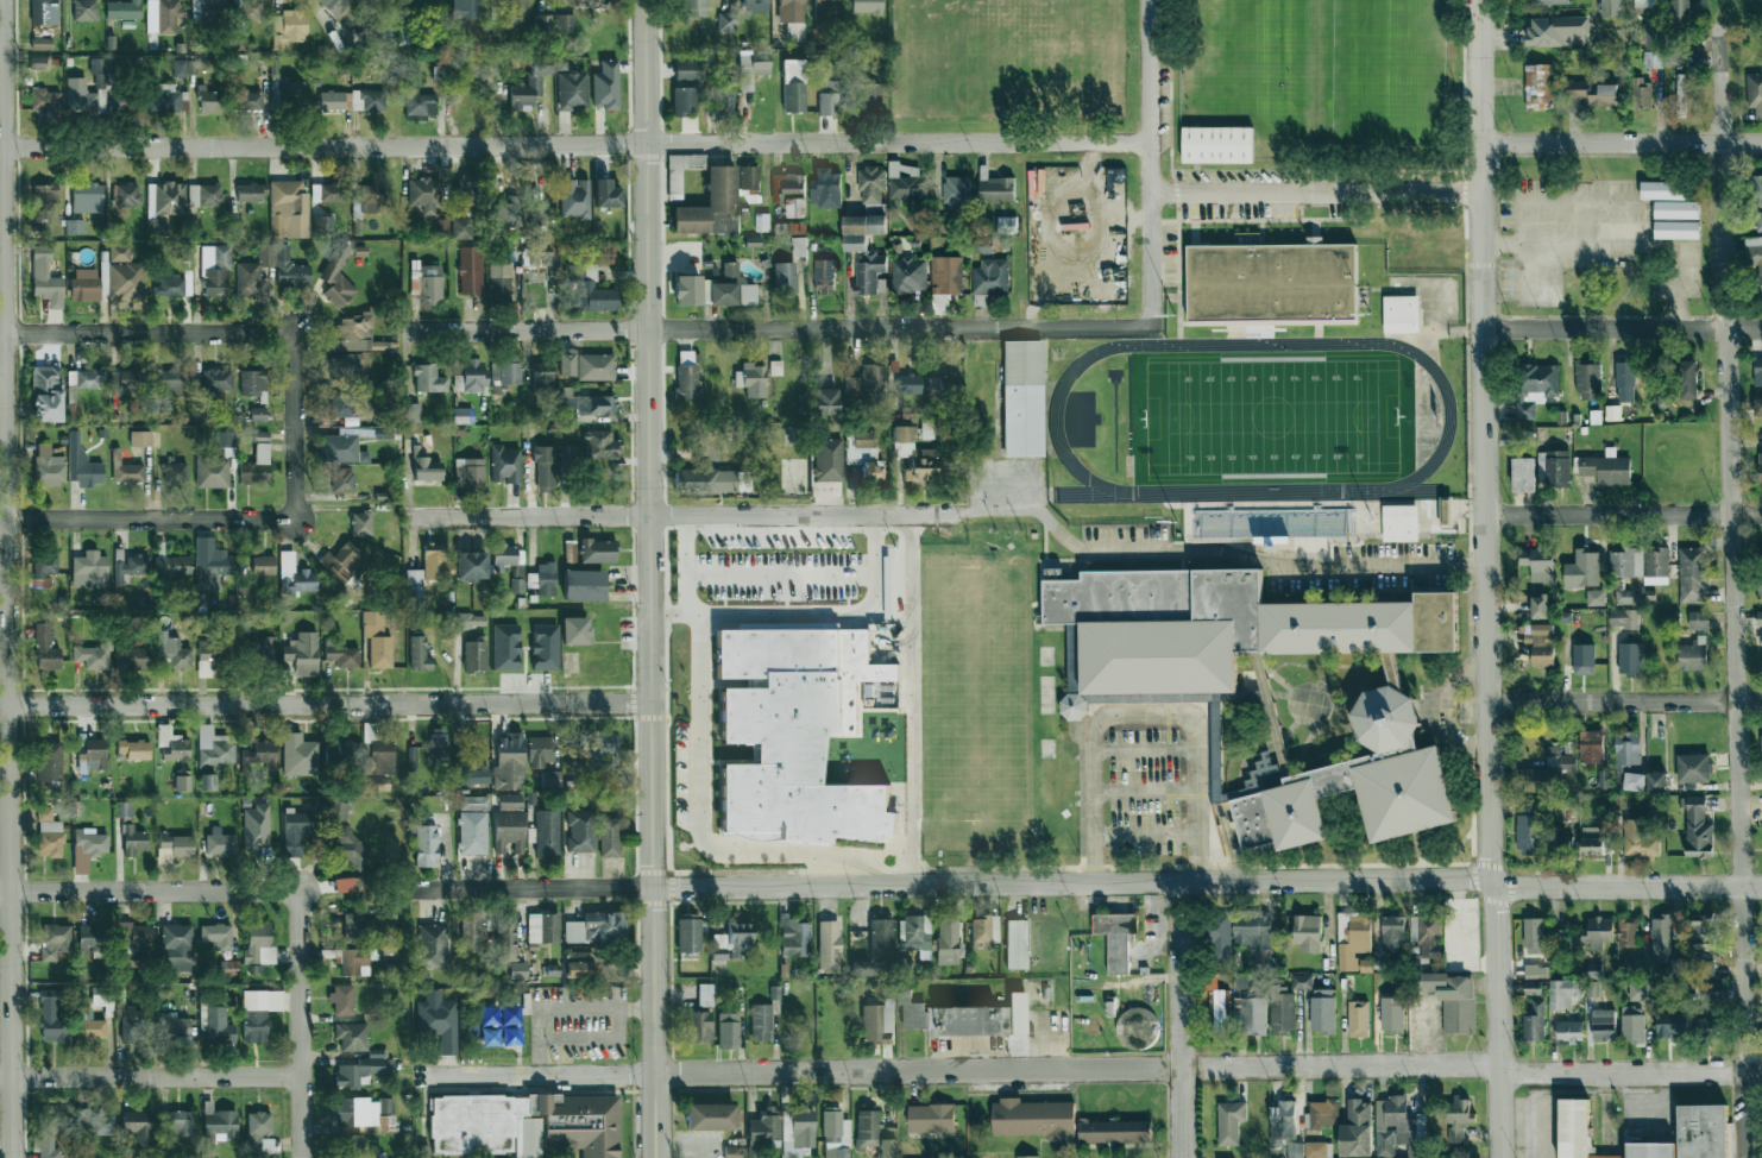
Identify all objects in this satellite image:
building: (1552, 1)
building: (1643, 2)
building: (334, 6)
building: (754, 6)
building: (866, 6)
building: (417, 7)
building: (694, 7)
building: (207, 8)
building: (464, 8)
building: (1609, 8)
building: (122, 10)
building: (248, 10)
building: (1679, 10)
building: (84, 11)
building: (825, 11)
building: (42, 12)
building: (516, 13)
road: (1714, 13)
building: (162, 15)
building: (792, 18)
building: (726, 21)
building: (542, 24)
building: (567, 24)
building: (289, 27)
building: (1555, 31)
building: (1651, 34)
building: (384, 37)
building: (42, 43)
building: (1651, 59)
building: (38, 63)
building: (540, 64)
building: (180, 68)
building: (686, 69)
building: (750, 70)
building: (97, 71)
building: (606, 84)
building: (793, 86)
building: (1538, 86)
building: (1577, 89)
building: (571, 90)
building: (290, 92)
building: (524, 92)
building: (1641, 93)
building: (1754, 93)
building: (1603, 94)
building: (80, 95)
building: (1680, 95)
building: (829, 99)
building: (868, 99)
building: (45, 100)
building: (209, 100)
building: (247, 100)
building: (331, 100)
building: (367, 100)
building: (168, 101)
building: (684, 101)
building: (724, 103)
building: (419, 105)
road: (573, 141)
building: (1217, 145)
road: (1621, 146)
road: (1147, 163)
building: (681, 171)
building: (749, 178)
building: (906, 182)
building: (870, 184)
building: (825, 187)
building: (470, 189)
building: (996, 189)
building: (1662, 190)
building: (1755, 190)
building: (250, 193)
building: (328, 193)
building: (789, 193)
building: (956, 193)
building: (126, 194)
building: (204, 194)
building: (424, 194)
building: (606, 194)
road: (1314, 194)
building: (44, 197)
building: (87, 197)
building: (371, 197)
building: (574, 199)
building: (163, 206)
building: (711, 206)
building: (288, 208)
building: (1675, 209)
building: (506, 212)
building: (539, 214)
building: (1758, 221)
building: (322, 225)
building: (1006, 225)
building: (74, 226)
building: (441, 227)
building: (461, 228)
building: (791, 228)
building: (1618, 229)
building: (1675, 229)
building: (861, 231)
building: (799, 246)
road: (1623, 246)
building: (119, 253)
building: (539, 253)
building: (1757, 269)
building: (290, 270)
building: (470, 270)
building: (215, 271)
building: (254, 272)
building: (870, 272)
building: (945, 275)
building: (908, 276)
building: (103, 277)
building: (824, 277)
building: (990, 277)
building: (45, 278)
building: (784, 279)
building: (125, 281)
building: (336, 281)
building: (1272, 282)
building: (499, 283)
building: (84, 284)
building: (429, 284)
building: (175, 285)
building: (725, 287)
building: (591, 289)
building: (687, 290)
building: (747, 294)
building: (1401, 314)
road: (776, 328)
road: (1623, 331)
road: (146, 332)
building: (353, 333)
building: (566, 364)
building: (584, 366)
building: (344, 367)
building: (774, 367)
building: (505, 372)
building: (1757, 372)
building: (474, 375)
building: (686, 375)
building: (542, 377)
building: (88, 378)
building: (1587, 378)
building: (1685, 378)
building: (428, 379)
building: (751, 379)
building: (1625, 379)
building: (127, 380)
building: (216, 380)
building: (170, 383)
building: (458, 383)
building: (253, 384)
building: (873, 384)
building: (908, 384)
building: (852, 385)
building: (943, 388)
building: (1535, 388)
building: (580, 391)
building: (46, 394)
building: (1021, 398)
building: (1662, 399)
building: (574, 402)
building: (824, 402)
building: (341, 404)
building: (1757, 407)
building: (74, 410)
building: (411, 413)
building: (258, 414)
building: (462, 415)
park: (1256, 416)
building: (1612, 416)
stadium: (1270, 421)
track: (1443, 422)
road: (292, 424)
building: (140, 439)
building: (224, 439)
building: (603, 445)
building: (342, 447)
building: (571, 455)
building: (864, 455)
building: (914, 458)
building: (827, 460)
building: (82, 462)
building: (505, 465)
building: (49, 466)
building: (256, 466)
building: (545, 467)
building: (1554, 467)
building: (1606, 467)
building: (1760, 467)
building: (427, 468)
building: (126, 470)
building: (175, 472)
building: (212, 472)
building: (468, 472)
building: (1523, 474)
building: (341, 480)
building: (704, 480)
building: (1446, 511)
road: (1624, 515)
road: (679, 517)
road: (146, 518)
building: (361, 523)
building: (1272, 523)
building: (1399, 523)
building: (585, 549)
building: (569, 552)
road: (1213, 561)
building: (346, 562)
building: (436, 562)
building: (1537, 562)
building: (1626, 562)
building: (509, 564)
building: (263, 565)
building: (172, 566)
building: (472, 566)
building: (1656, 566)
building: (44, 567)
building: (130, 568)
building: (92, 569)
building: (1582, 569)
building: (213, 571)
building: (1692, 574)
building: (295, 575)
road: (649, 578)
road: (5, 579)
building: (545, 579)
road: (1487, 579)
building: (1760, 584)
building: (577, 585)
building: (414, 589)
road: (1731, 592)
building: (1596, 597)
building: (1629, 597)
road: (826, 613)
building: (1538, 613)
road: (673, 615)
building: (1623, 618)
building: (1669, 618)
building: (1758, 618)
building: (1698, 619)
building: (470, 621)
building: (574, 631)
building: (1540, 643)
building: (1761, 646)
building: (505, 647)
building: (545, 647)
building: (45, 648)
building: (379, 652)
building: (174, 653)
building: (304, 654)
building: (419, 654)
building: (474, 654)
building: (93, 655)
building: (341, 655)
building: (1692, 655)
building: (1630, 657)
building: (132, 659)
building: (1584, 659)
building: (209, 660)
building: (1266, 685)
road: (912, 699)
road: (1625, 701)
road: (325, 706)
road: (1144, 713)
building: (795, 735)
building: (597, 743)
building: (171, 745)
building: (438, 745)
building: (1591, 747)
building: (1761, 747)
building: (214, 748)
building: (132, 749)
building: (1626, 750)
building: (539, 751)
building: (341, 753)
building: (300, 755)
building: (92, 756)
building: (259, 756)
building: (1558, 759)
building: (377, 760)
building: (49, 761)
building: (509, 764)
building: (1693, 768)
road: (696, 774)
building: (550, 779)
building: (1540, 780)
building: (208, 781)
building: (1634, 781)
building: (182, 782)
building: (1656, 782)
building: (509, 801)
building: (473, 803)
building: (122, 810)
building: (339, 810)
building: (256, 826)
building: (1528, 829)
building: (1697, 829)
building: (509, 831)
building: (579, 832)
building: (49, 833)
building: (472, 833)
building: (547, 833)
building: (609, 837)
building: (1638, 838)
building: (133, 841)
building: (1591, 841)
building: (220, 843)
building: (1558, 844)
building: (426, 845)
building: (175, 847)
building: (87, 848)
building: (352, 848)
road: (1087, 883)
building: (357, 887)
road: (149, 889)
building: (361, 927)
building: (542, 927)
building: (597, 927)
building: (1252, 929)
building: (471, 931)
building: (984, 931)
building: (1626, 931)
building: (1307, 932)
building: (1599, 932)
building: (688, 933)
building: (1392, 933)
building: (218, 934)
building: (914, 934)
building: (1661, 934)
building: (1220, 936)
building: (1426, 936)
building: (1534, 936)
building: (505, 937)
building: (793, 937)
building: (1116, 938)
building: (1352, 938)
building: (735, 939)
building: (881, 939)
building: (55, 940)
building: (92, 940)
building: (946, 940)
building: (134, 943)
building: (259, 943)
building: (1017, 944)
building: (432, 945)
building: (827, 945)
building: (178, 948)
building: (353, 962)
building: (579, 964)
building: (861, 968)
building: (1678, 968)
building: (1704, 969)
building: (517, 970)
building: (1535, 971)
building: (1302, 981)
building: (1592, 986)
building: (1640, 992)
building: (1562, 993)
building: (705, 995)
building: (1710, 995)
building: (341, 1000)
building: (1453, 1000)
road: (546, 1009)
road: (637, 1009)
building: (1220, 1009)
building: (1322, 1011)
building: (259, 1013)
building: (1283, 1013)
building: (1250, 1015)
building: (1391, 1015)
building: (50, 1017)
building: (951, 1018)
building: (1358, 1019)
road: (1179, 1020)
road: (298, 1022)
building: (439, 1022)
building: (761, 1022)
building: (877, 1022)
building: (1534, 1022)
building: (1631, 1024)
building: (1670, 1024)
building: (89, 1025)
building: (133, 1025)
building: (1603, 1025)
building: (219, 1026)
building: (1706, 1026)
building: (174, 1027)
building: (698, 1027)
building: (1135, 1028)
building: (728, 1031)
building: (1569, 1031)
building: (352, 1037)
road: (594, 1039)
building: (361, 1070)
road: (1088, 1076)
road: (150, 1077)
building: (364, 1112)
building: (1323, 1113)
building: (710, 1116)
road: (1534, 1116)
building: (931, 1118)
building: (1033, 1119)
building: (1458, 1119)
building: (1573, 1120)
building: (1229, 1121)
building: (96, 1122)
building: (175, 1122)
building: (220, 1122)
building: (259, 1122)
building: (138, 1125)
building: (526, 1125)
building: (764, 1128)
building: (1285, 1128)
building: (1398, 1128)
building: (52, 1129)
building: (1357, 1129)
building: (1114, 1131)
building: (1701, 1131)
building: (835, 1134)
building: (874, 1134)
building: (263, 1143)
building: (1317, 1150)
building: (732, 1153)
building: (1026, 1157)

